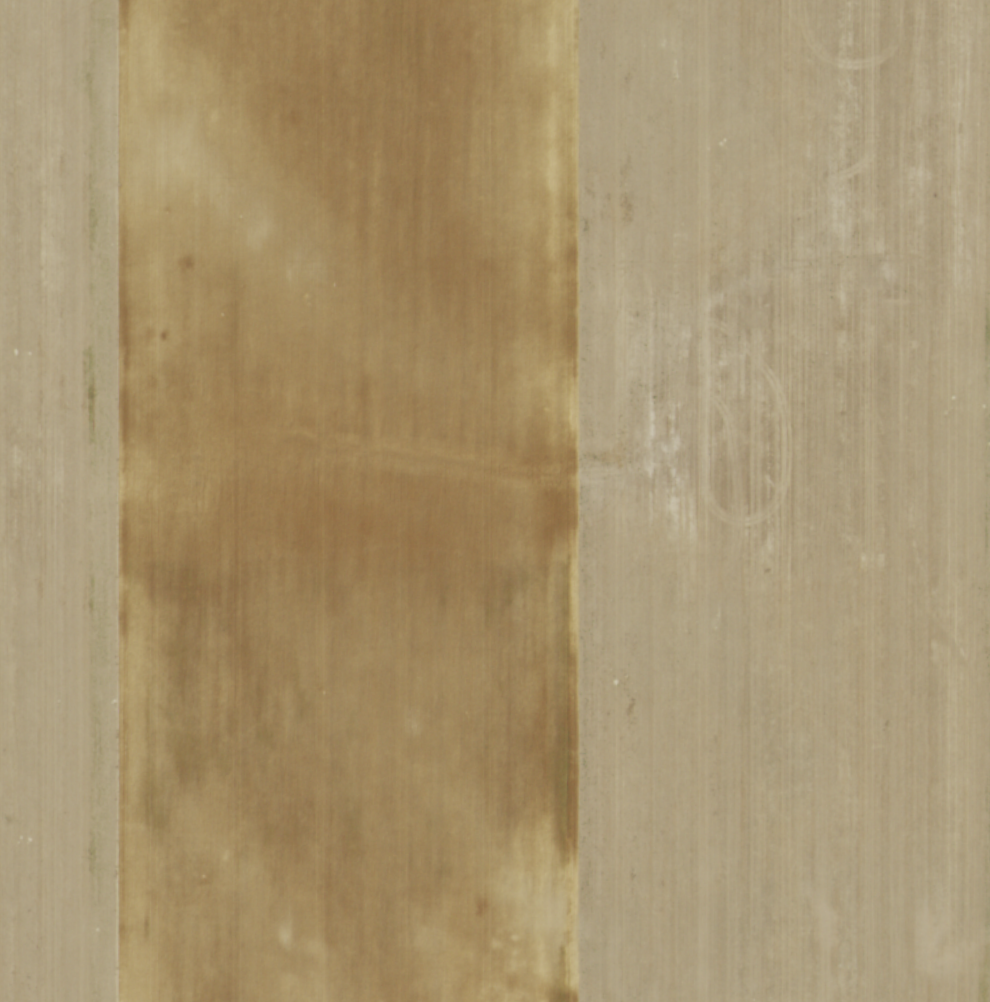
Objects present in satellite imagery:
crop: (495, 501)

